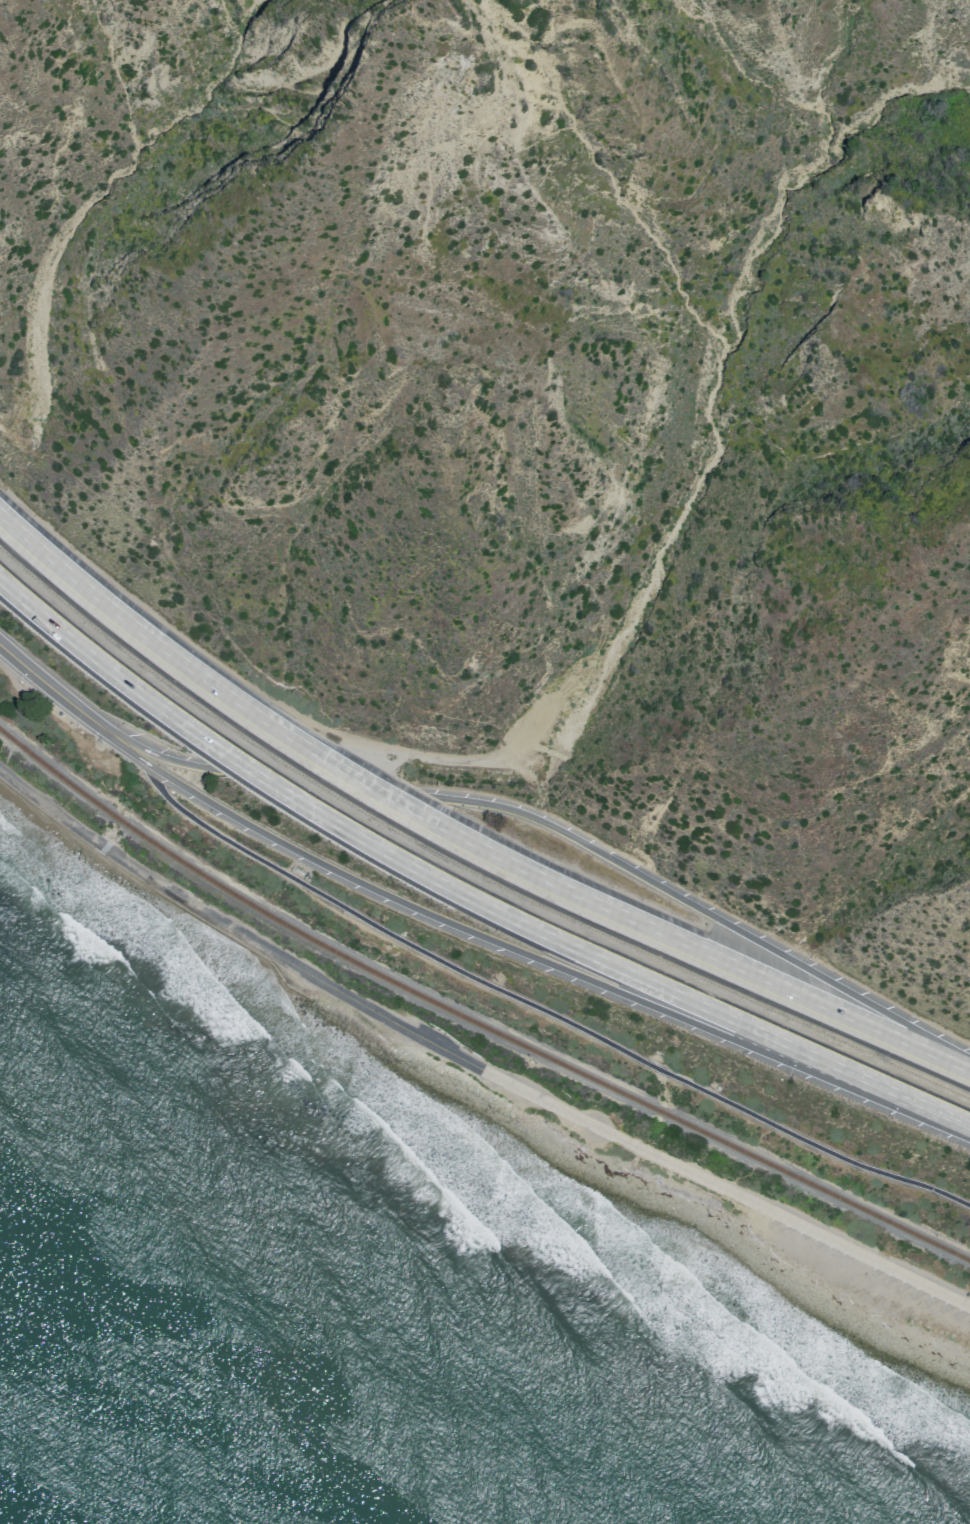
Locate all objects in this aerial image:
road: (42, 680)
road: (94, 721)
road: (153, 753)
road: (458, 841)
road: (461, 892)
road: (688, 901)
road: (497, 941)
road: (503, 991)
railway: (470, 1021)
road: (951, 1051)
road: (469, 1063)
road: (943, 1123)
park: (618, 1142)

